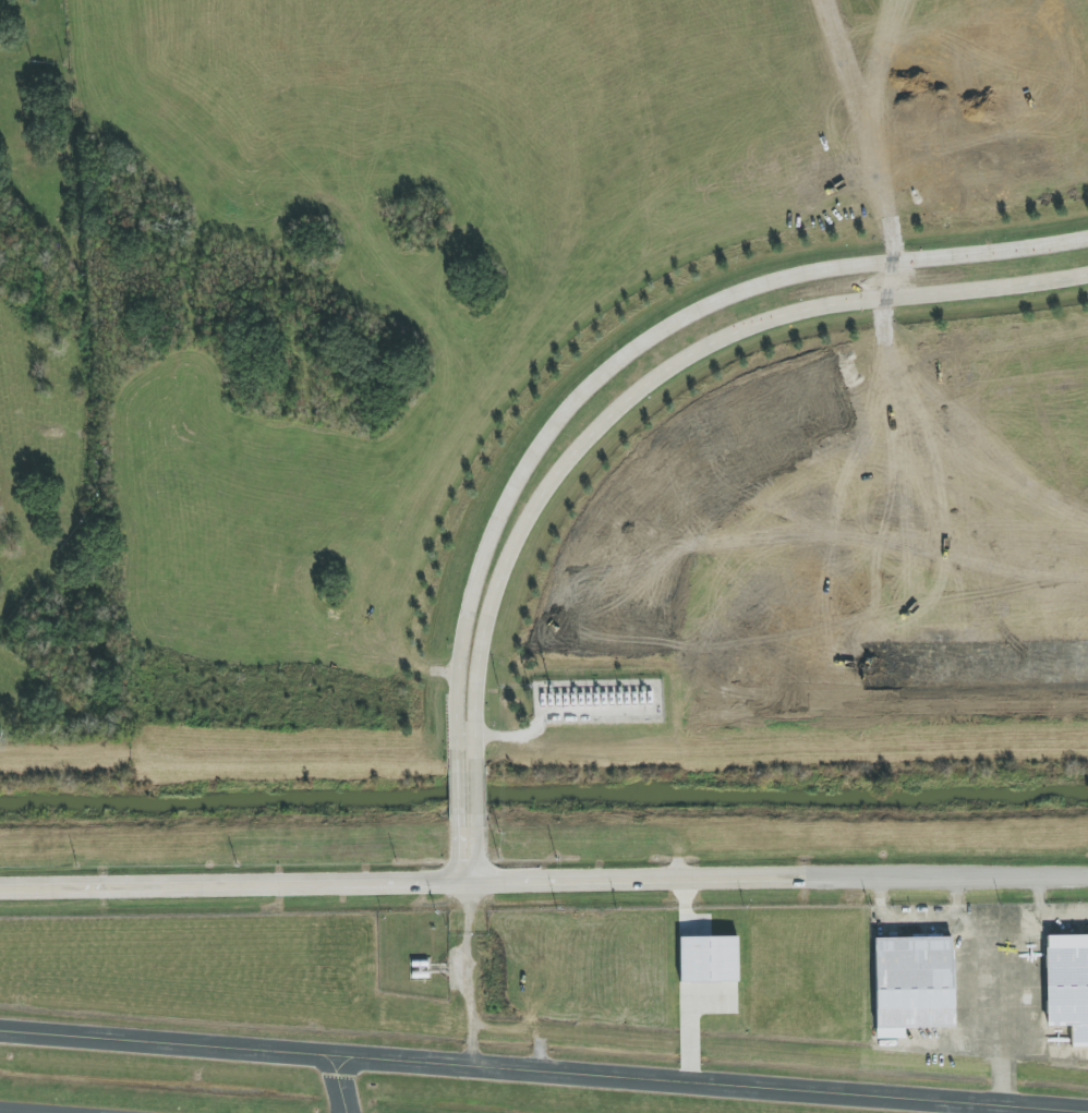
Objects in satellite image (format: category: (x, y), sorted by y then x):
road: (629, 354)
road: (655, 380)
power plant: (599, 701)
road: (476, 793)
road: (458, 795)
road: (476, 848)
road: (458, 849)
road: (543, 882)
road: (469, 954)
building: (708, 958)
airport hangar: (910, 982)
building: (910, 982)
airport apron: (988, 985)
airport hangar: (1066, 985)
building: (1066, 985)
road: (544, 994)
airport: (551, 1013)
road: (765, 1051)
airport taxiway: (181, 1057)
airport taxiway: (544, 1058)
airport taxiway: (1003, 1074)
airport taxiway: (626, 1089)
airport runway: (72, 1108)

